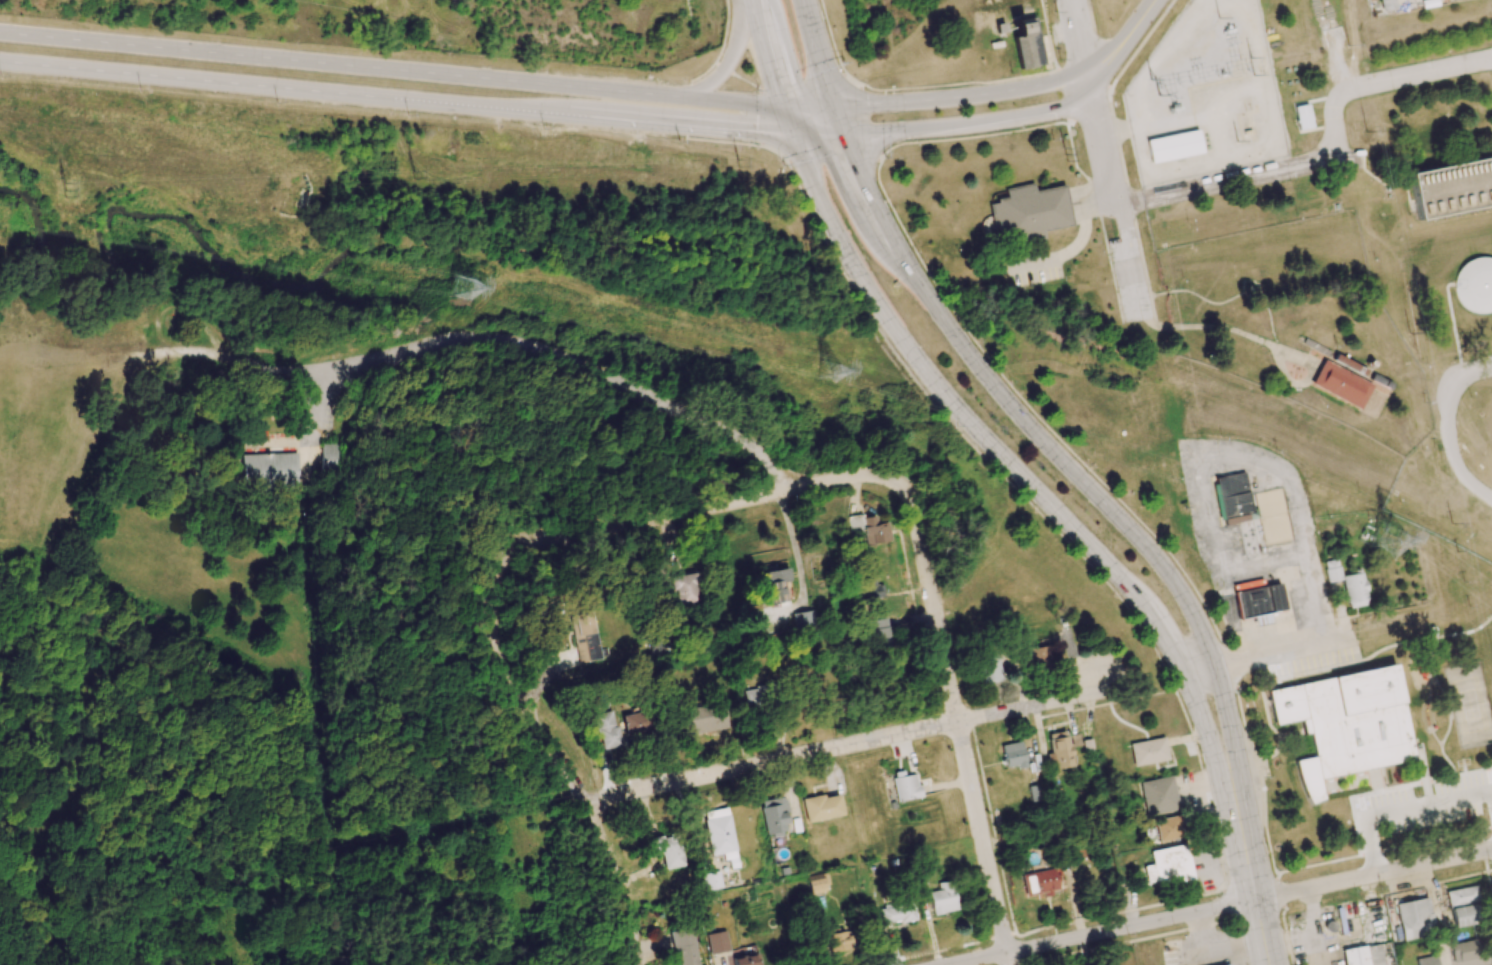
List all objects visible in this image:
building: (1387, 5)
road: (753, 14)
road: (1078, 40)
building: (1026, 42)
road: (1123, 42)
road: (815, 53)
road: (729, 61)
road: (722, 66)
power tower: (1257, 66)
road: (415, 72)
road: (772, 82)
traffic signals: (774, 87)
road: (284, 88)
power tower: (1156, 88)
road: (959, 95)
power substation: (1206, 97)
traffic signals: (868, 104)
road: (969, 120)
building: (1303, 120)
road: (679, 125)
road: (1114, 130)
traffic signals: (757, 132)
road: (817, 134)
building: (1174, 146)
power tower: (1066, 155)
traffic signals: (854, 158)
power tower: (740, 164)
road: (859, 168)
power tower: (424, 170)
power tower: (79, 185)
building: (1453, 189)
road: (1114, 198)
building: (1028, 213)
road: (907, 261)
power tower: (465, 289)
road: (590, 370)
power tower: (838, 371)
road: (967, 419)
road: (1450, 426)
park: (340, 439)
building: (333, 456)
building: (270, 471)
road: (1078, 474)
building: (1233, 498)
road: (692, 511)
power tower: (1392, 542)
road: (1219, 562)
building: (1331, 570)
building: (687, 588)
building: (870, 588)
building: (772, 589)
building: (1354, 590)
building: (1258, 603)
building: (799, 620)
building: (877, 633)
park: (1489, 635)
building: (585, 638)
building: (1044, 654)
road: (1269, 655)
building: (987, 670)
building: (750, 698)
park: (1470, 704)
road: (1035, 705)
road: (956, 714)
building: (699, 719)
building: (635, 724)
building: (1344, 724)
building: (604, 730)
building: (1058, 750)
road: (1234, 750)
building: (1148, 751)
building: (1012, 755)
road: (1213, 755)
road: (770, 762)
road: (563, 770)
building: (906, 787)
building: (1158, 795)
parking lot: (1422, 806)
building: (821, 807)
road: (1405, 809)
building: (774, 816)
building: (1168, 829)
building: (718, 834)
building: (667, 849)
building: (1168, 865)
road: (1373, 874)
building: (709, 880)
building: (1039, 882)
building: (816, 883)
building: (942, 900)
road: (1256, 900)
building: (1463, 906)
building: (897, 913)
building: (1414, 918)
road: (1131, 926)
building: (839, 939)
building: (716, 942)
building: (683, 948)
building: (1463, 951)
building: (1355, 956)
road: (978, 959)
road: (1008, 959)
building: (743, 960)
building: (1427, 960)
building: (1228, 964)

